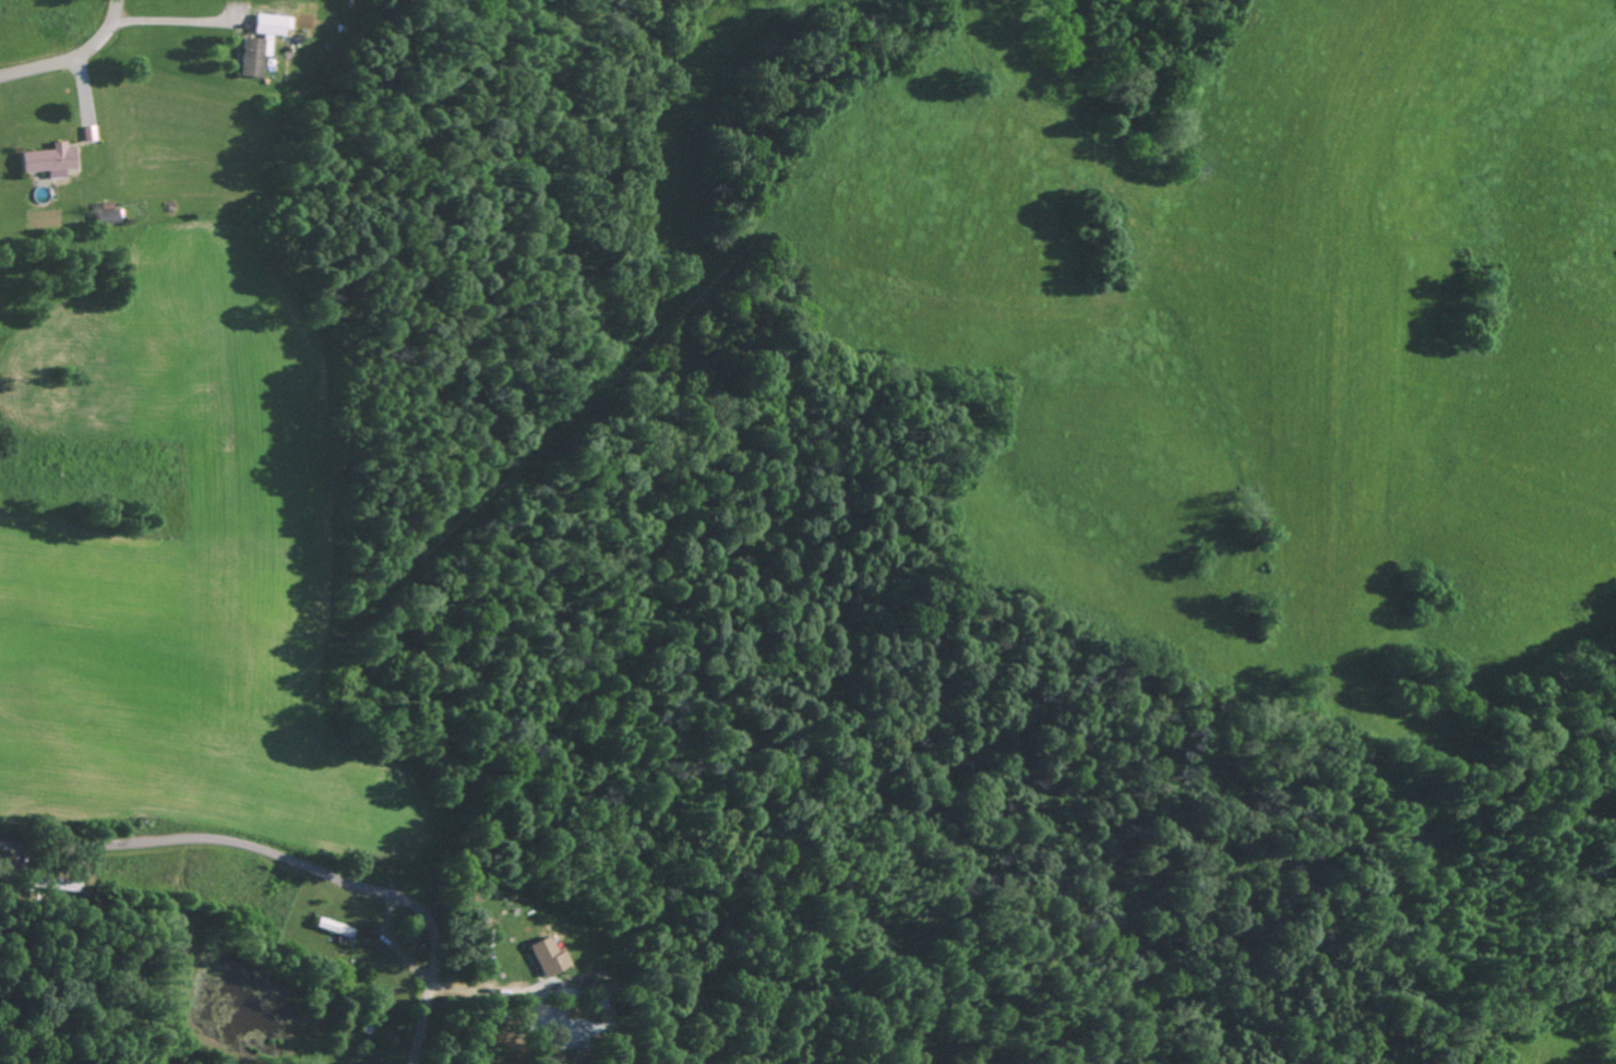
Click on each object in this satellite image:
building: (261, 43)
road: (72, 57)
building: (49, 159)
building: (106, 215)
road: (1320, 602)
road: (292, 862)
building: (548, 955)

